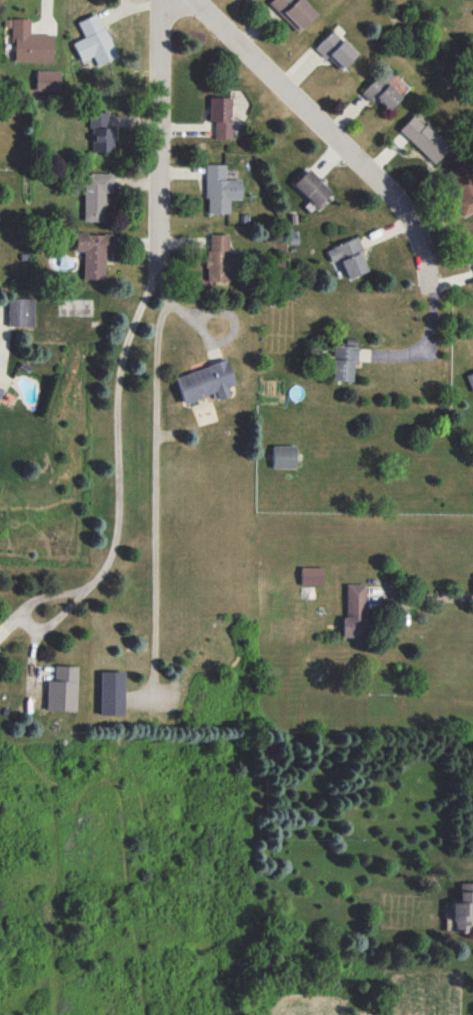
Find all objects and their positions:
building: (293, 11)
building: (95, 40)
building: (29, 42)
building: (336, 49)
building: (48, 79)
building: (382, 90)
building: (220, 116)
building: (101, 132)
road: (332, 134)
road: (157, 135)
building: (424, 137)
building: (463, 187)
building: (220, 189)
building: (312, 189)
building: (96, 194)
building: (472, 247)
building: (93, 252)
building: (218, 257)
building: (349, 257)
road: (172, 301)
building: (21, 311)
road: (205, 335)
road: (429, 350)
building: (343, 361)
building: (471, 379)
building: (205, 381)
building: (0, 388)
road: (120, 453)
building: (284, 456)
road: (155, 498)
building: (311, 573)
road: (435, 598)
building: (354, 613)
building: (63, 688)
building: (111, 692)
building: (463, 908)

